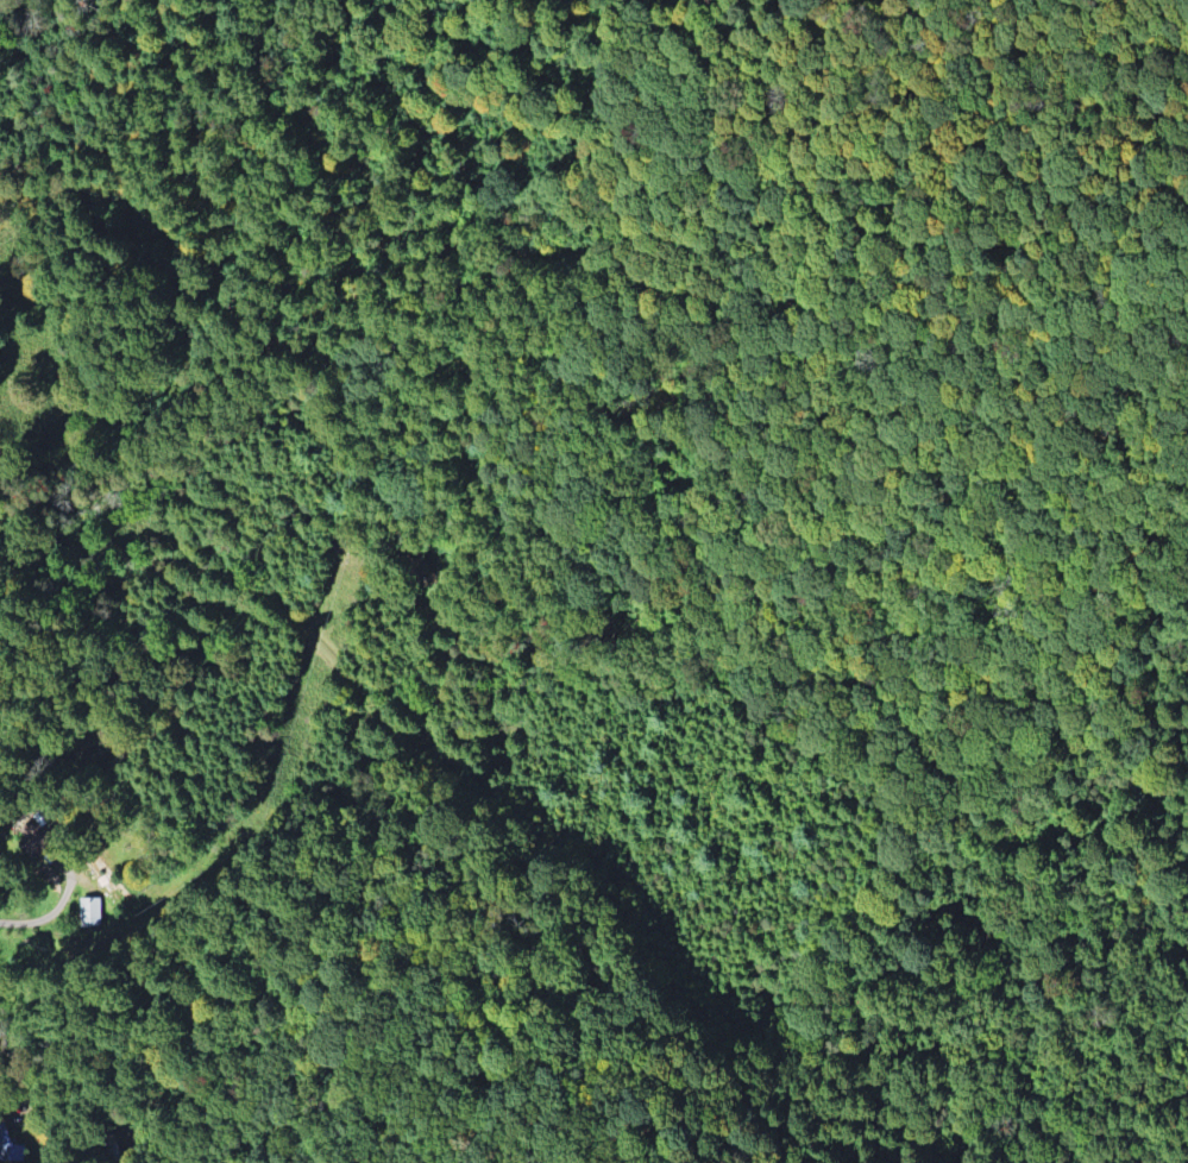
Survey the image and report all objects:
building: (89, 912)

